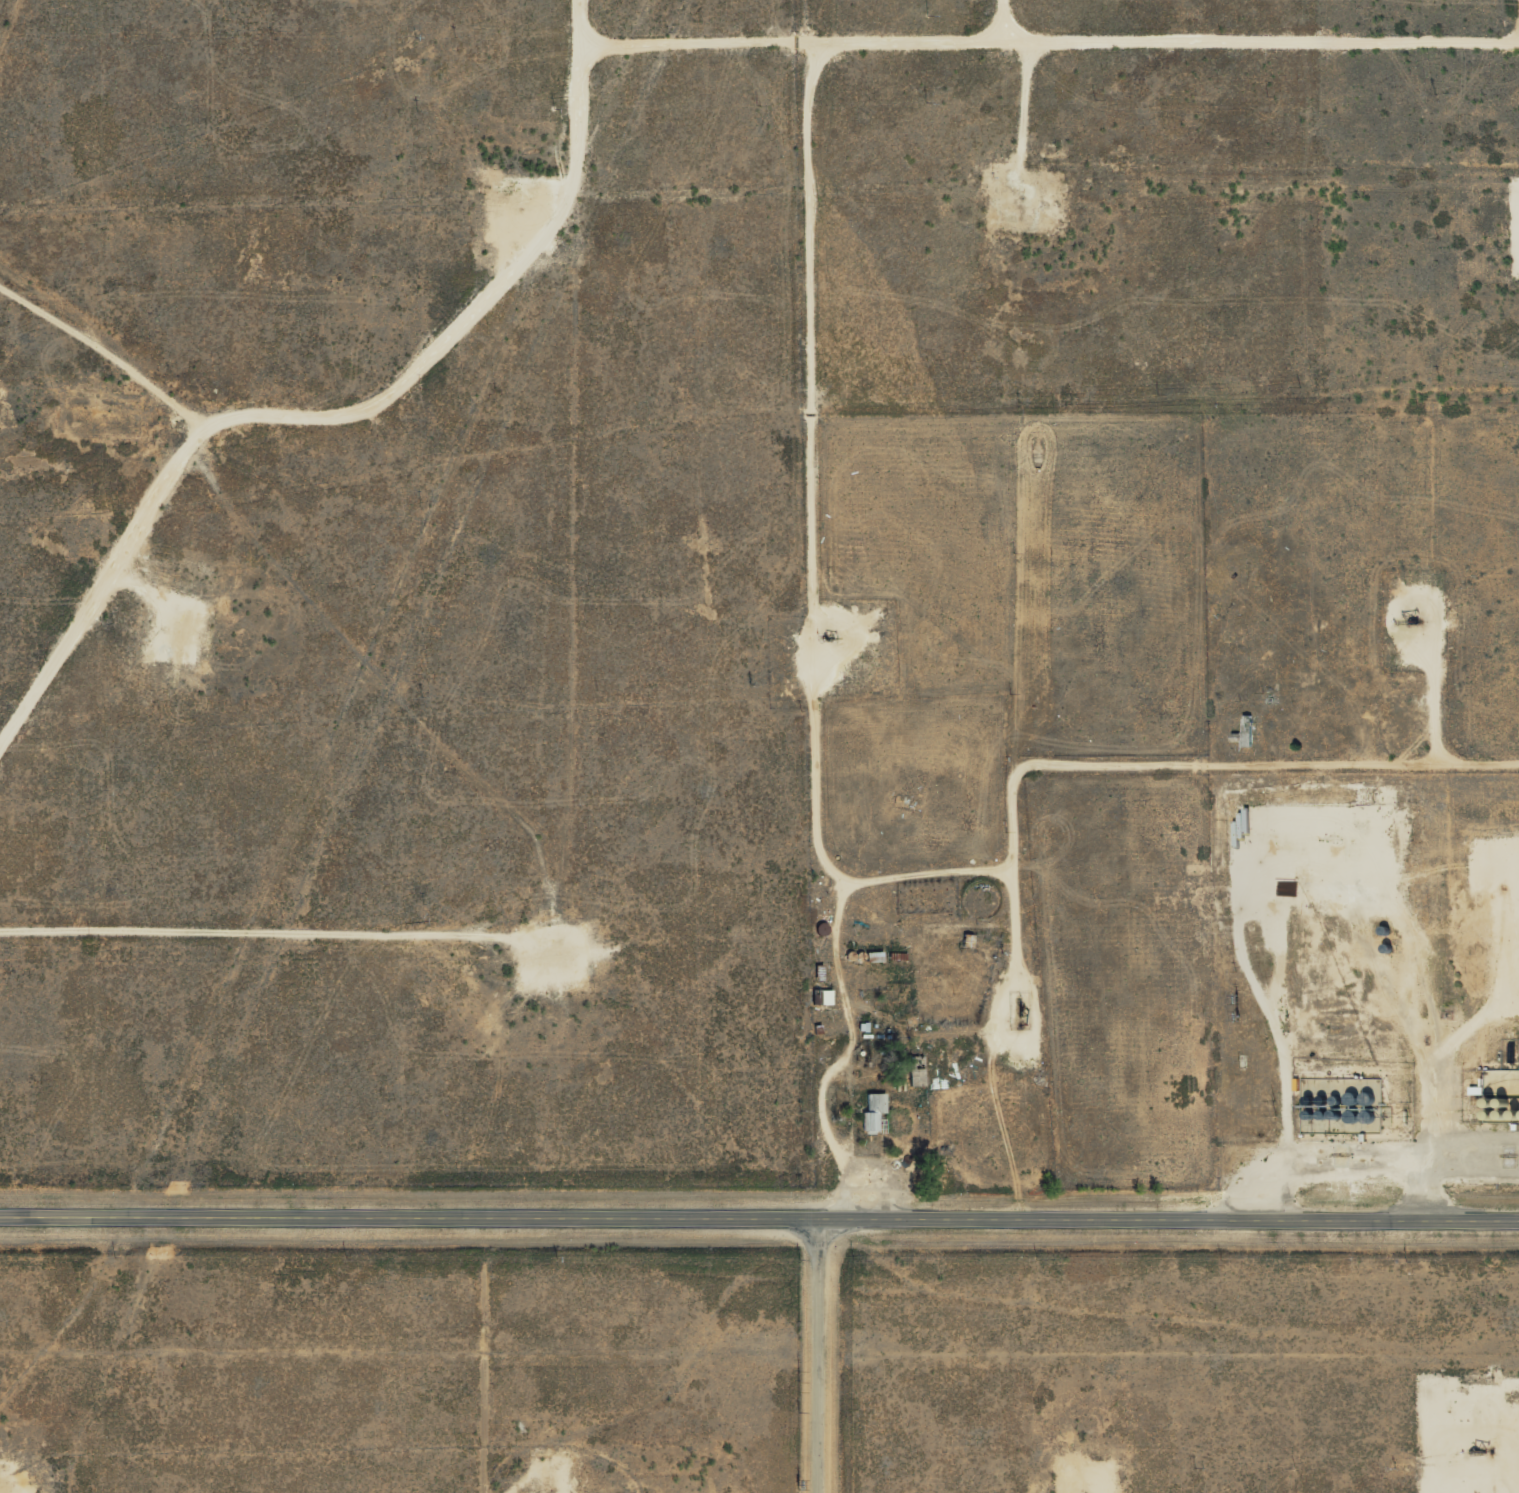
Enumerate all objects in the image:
road: (1242, 44)
road: (96, 384)
road: (326, 399)
road: (1137, 768)
road: (226, 938)
road: (759, 1221)
road: (824, 1357)
road: (517, 1470)

